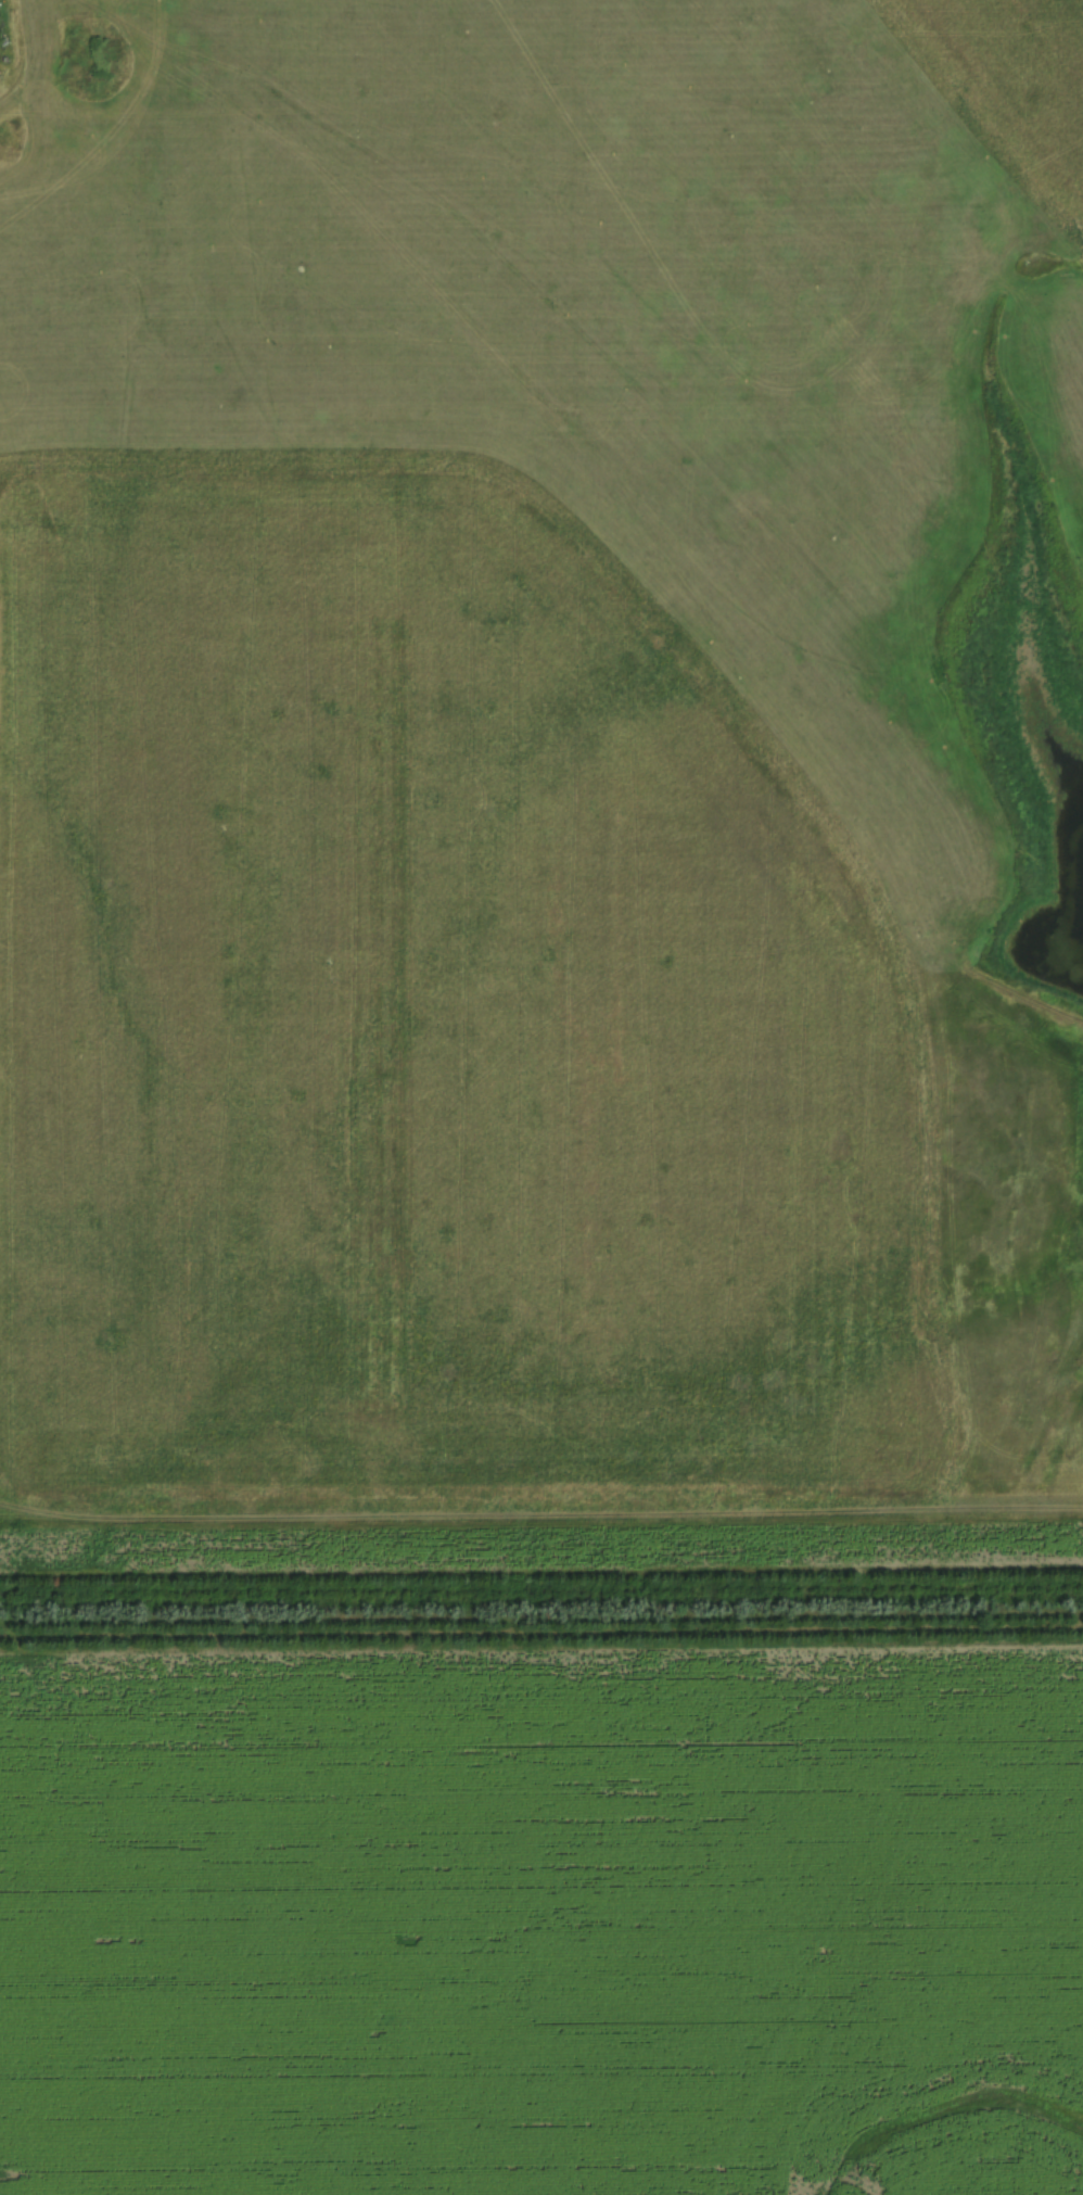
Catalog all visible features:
road: (541, 1507)

